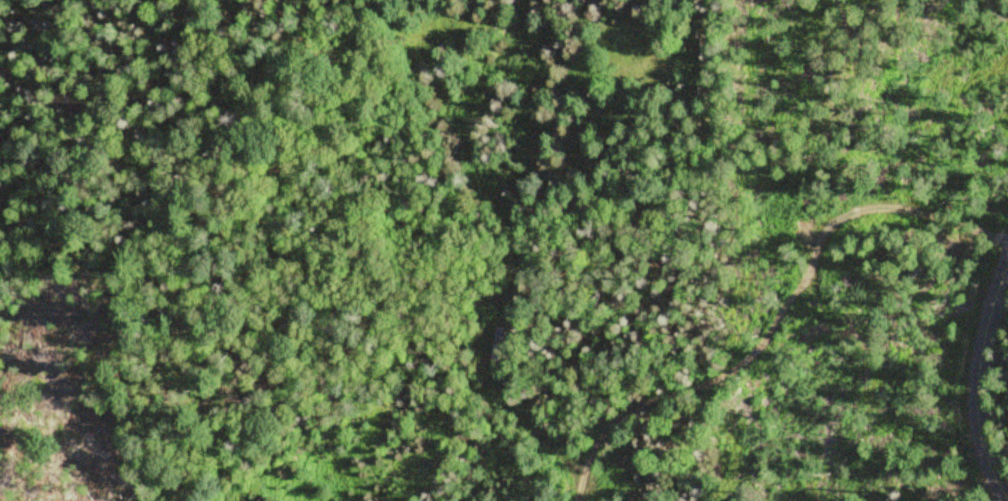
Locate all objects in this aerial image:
road: (746, 341)
road: (976, 376)

